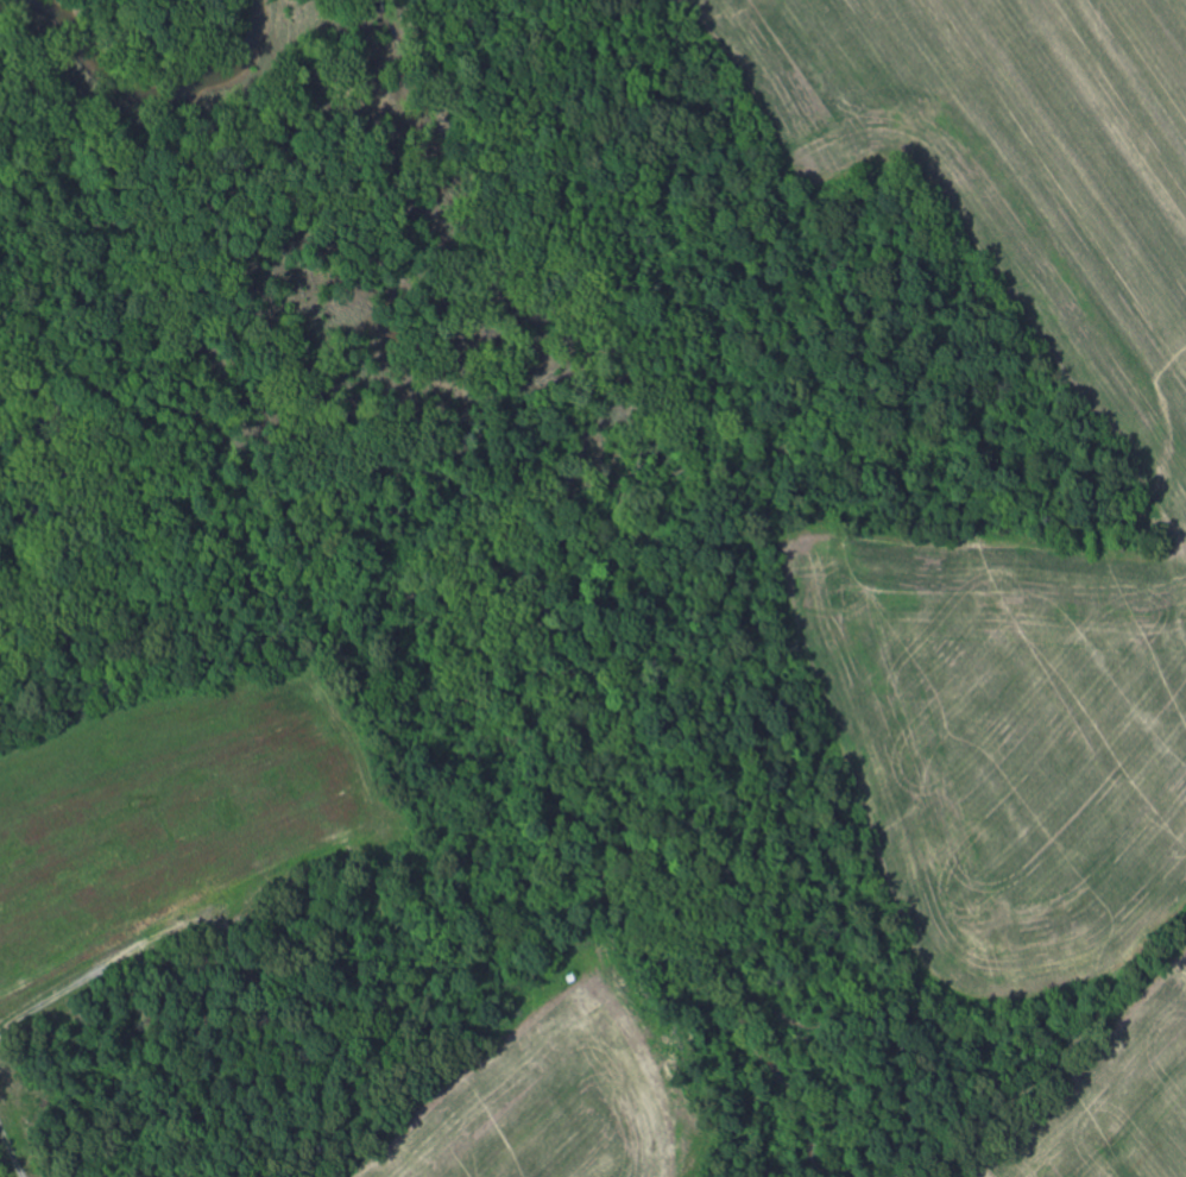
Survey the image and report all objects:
road: (1086, 1076)

